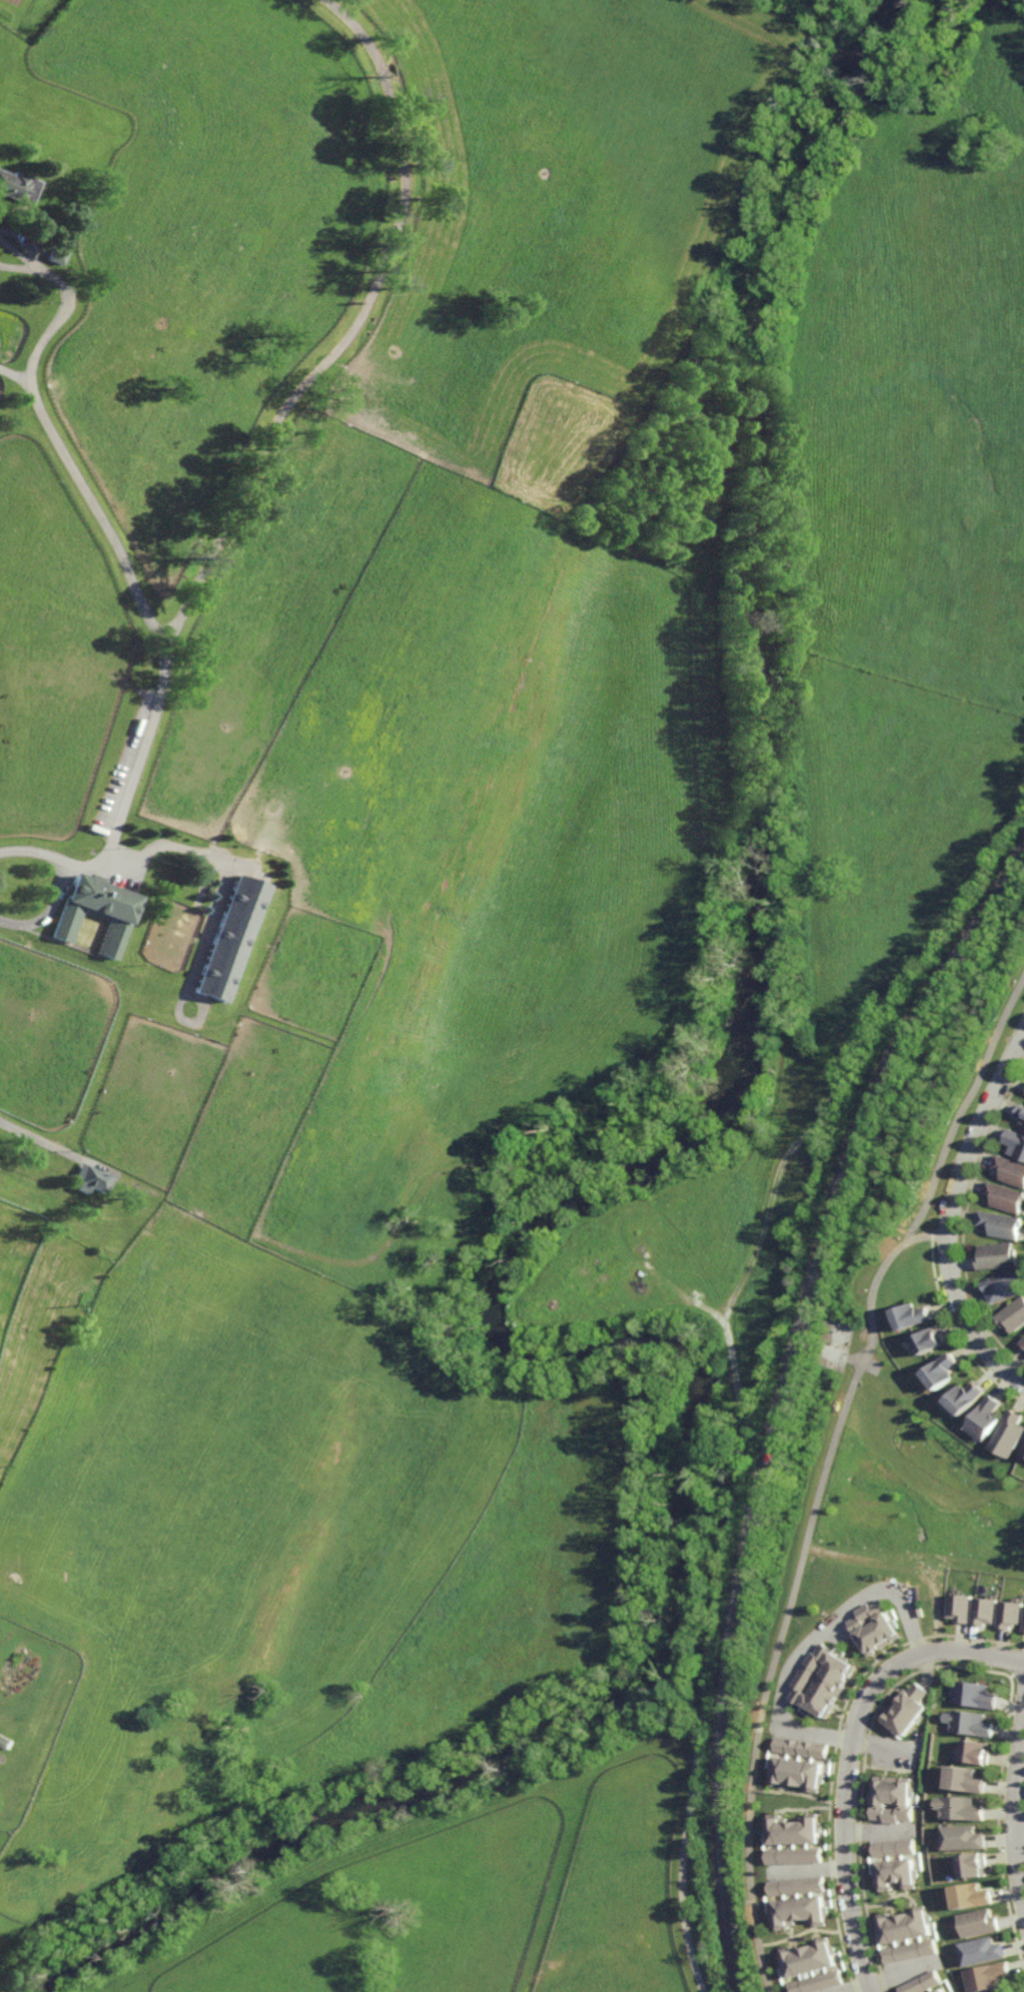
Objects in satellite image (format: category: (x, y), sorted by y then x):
building: (17, 185)
building: (54, 256)
road: (130, 590)
road: (45, 911)
building: (92, 911)
building: (228, 939)
building: (1021, 1115)
building: (1023, 1123)
road: (37, 1139)
building: (1016, 1143)
building: (1013, 1169)
building: (91, 1178)
building: (1006, 1193)
road: (953, 1203)
building: (1001, 1221)
road: (930, 1237)
building: (997, 1253)
building: (1003, 1284)
building: (913, 1312)
building: (1013, 1312)
building: (929, 1338)
building: (1022, 1340)
building: (942, 1368)
building: (966, 1395)
railway: (786, 1400)
building: (986, 1416)
building: (1009, 1433)
building: (1022, 1448)
road: (826, 1467)
building: (962, 1607)
building: (988, 1611)
building: (1012, 1614)
building: (877, 1627)
road: (816, 1638)
building: (824, 1680)
building: (977, 1695)
building: (971, 1724)
building: (5, 1741)
building: (801, 1747)
building: (976, 1753)
road: (849, 1756)
building: (798, 1773)
building: (966, 1777)
road: (799, 1793)
building: (892, 1798)
building: (962, 1805)
road: (1015, 1807)
building: (796, 1830)
road: (1019, 1832)
building: (963, 1834)
building: (893, 1847)
building: (796, 1855)
building: (973, 1865)
building: (896, 1874)
building: (798, 1885)
building: (969, 1893)
building: (800, 1911)
building: (978, 1922)
building: (904, 1925)
road: (807, 1931)
building: (981, 1949)
building: (909, 1950)
building: (811, 1957)
building: (987, 1974)
road: (886, 1976)
building: (818, 1982)
building: (921, 1983)
building: (940, 1990)

